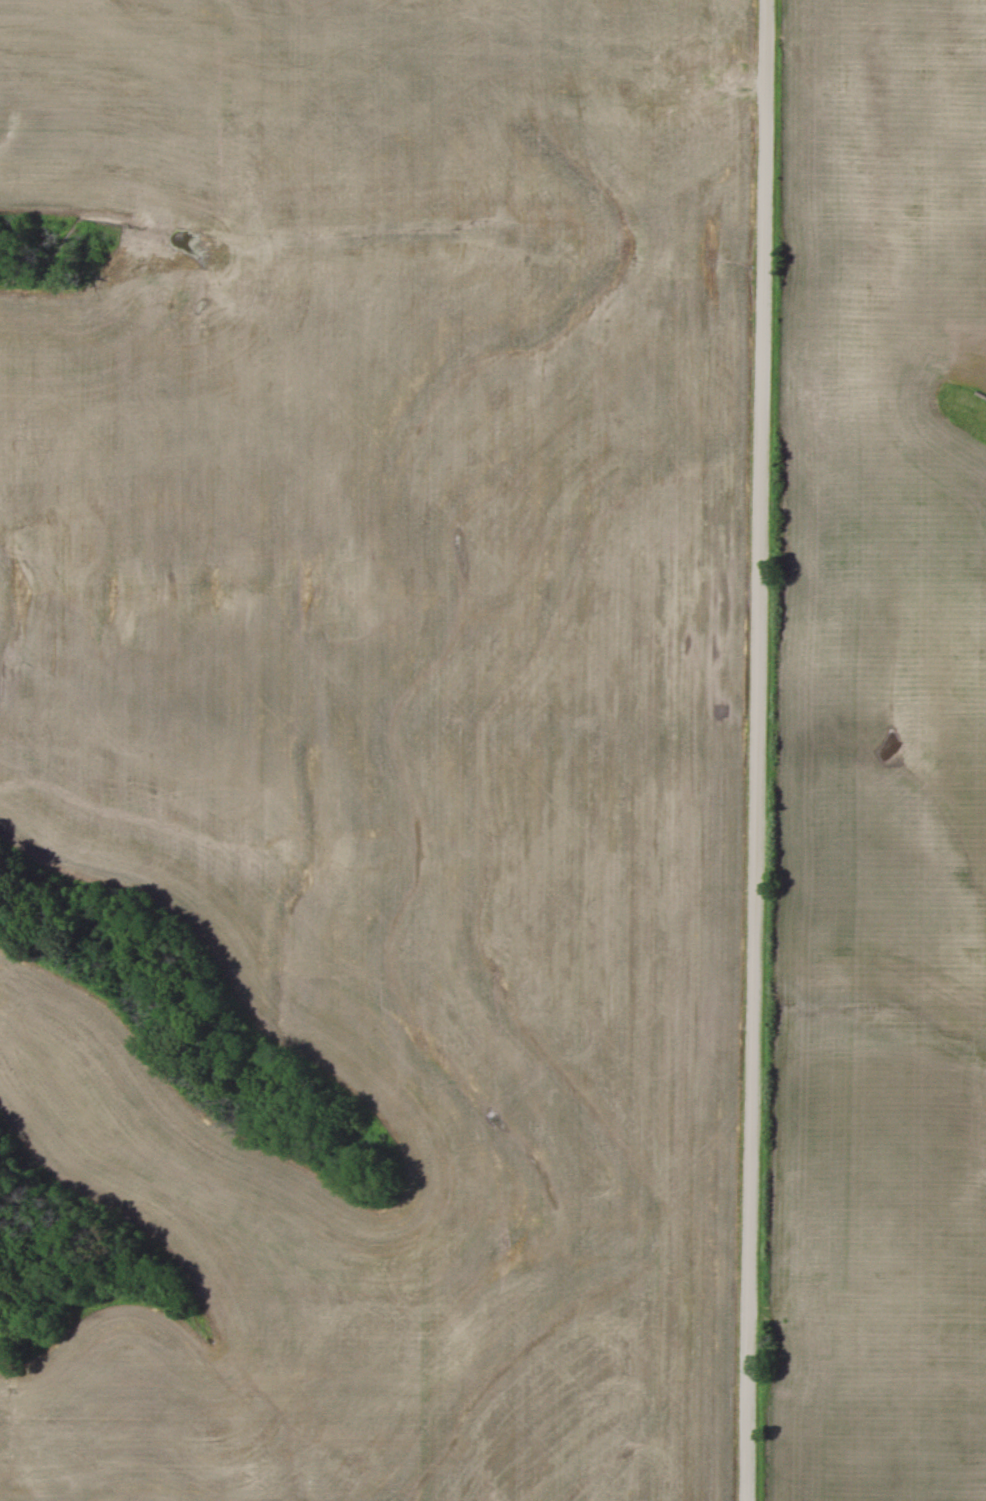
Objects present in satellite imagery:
road: (751, 750)

